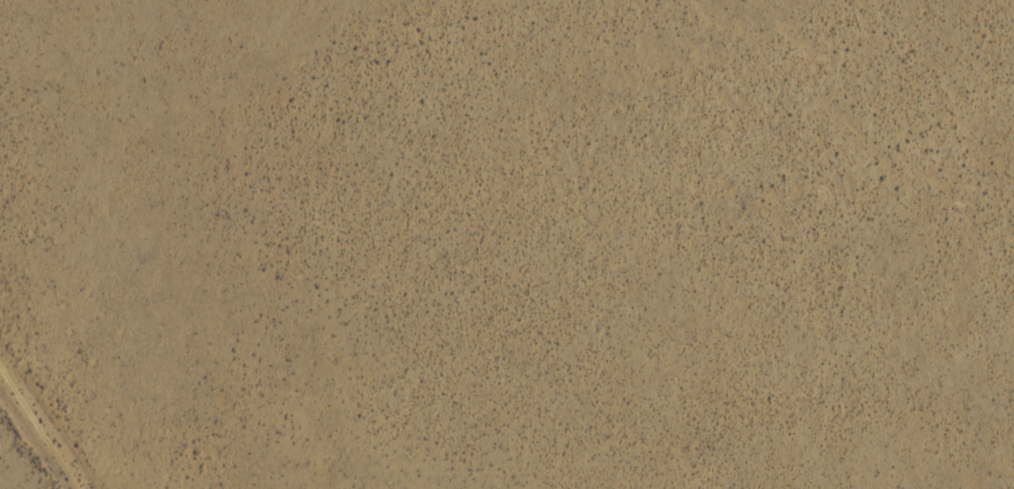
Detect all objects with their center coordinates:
road: (47, 428)

